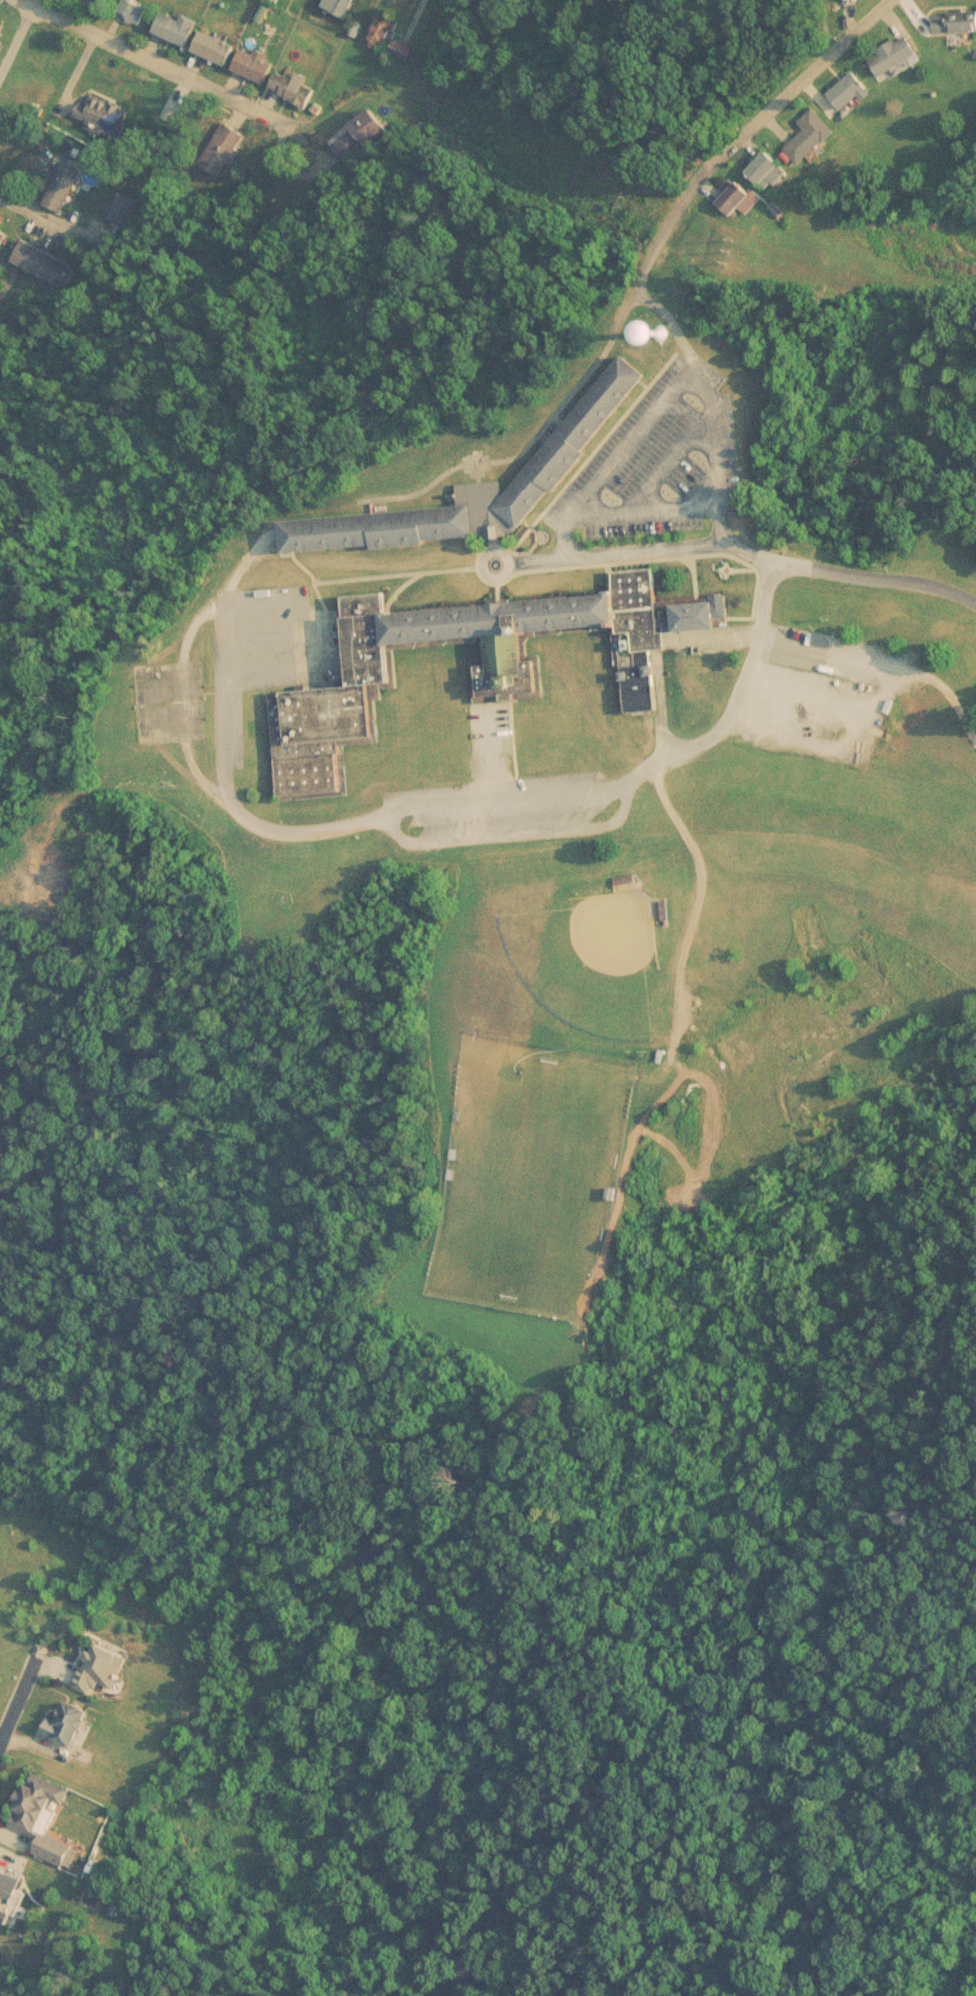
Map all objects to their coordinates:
building: (99, 2)
building: (136, 10)
building: (951, 10)
building: (379, 18)
road: (11, 27)
building: (179, 27)
building: (397, 37)
road: (832, 37)
building: (887, 43)
building: (217, 47)
road: (158, 54)
building: (257, 66)
building: (843, 79)
building: (295, 88)
building: (111, 118)
building: (800, 123)
road: (735, 131)
building: (363, 135)
building: (226, 149)
building: (756, 157)
building: (66, 187)
building: (728, 187)
building: (126, 209)
road: (61, 219)
road: (653, 235)
building: (4, 241)
building: (48, 263)
water tower: (658, 321)
road: (640, 372)
road: (693, 374)
road: (560, 388)
road: (594, 434)
parking lot: (656, 447)
road: (709, 450)
road: (473, 461)
building: (472, 475)
road: (364, 494)
road: (655, 498)
road: (563, 509)
road: (523, 513)
road: (464, 534)
road: (275, 535)
road: (743, 537)
road: (617, 550)
road: (478, 552)
road: (739, 556)
road: (390, 562)
road: (308, 565)
road: (690, 567)
road: (394, 577)
building: (690, 604)
parking lot: (266, 628)
road: (822, 641)
building: (502, 662)
building: (437, 663)
building: (146, 670)
road: (814, 671)
road: (944, 680)
road: (735, 682)
parking lot: (815, 683)
road: (177, 690)
road: (880, 692)
road: (797, 711)
road: (220, 735)
road: (489, 743)
parking lot: (497, 784)
road: (498, 785)
road: (512, 822)
building: (628, 883)
road: (692, 892)
park: (596, 944)
park: (523, 1165)
building: (101, 1669)
road: (19, 1698)
building: (71, 1723)
building: (40, 1805)
building: (53, 1853)
building: (8, 1890)

